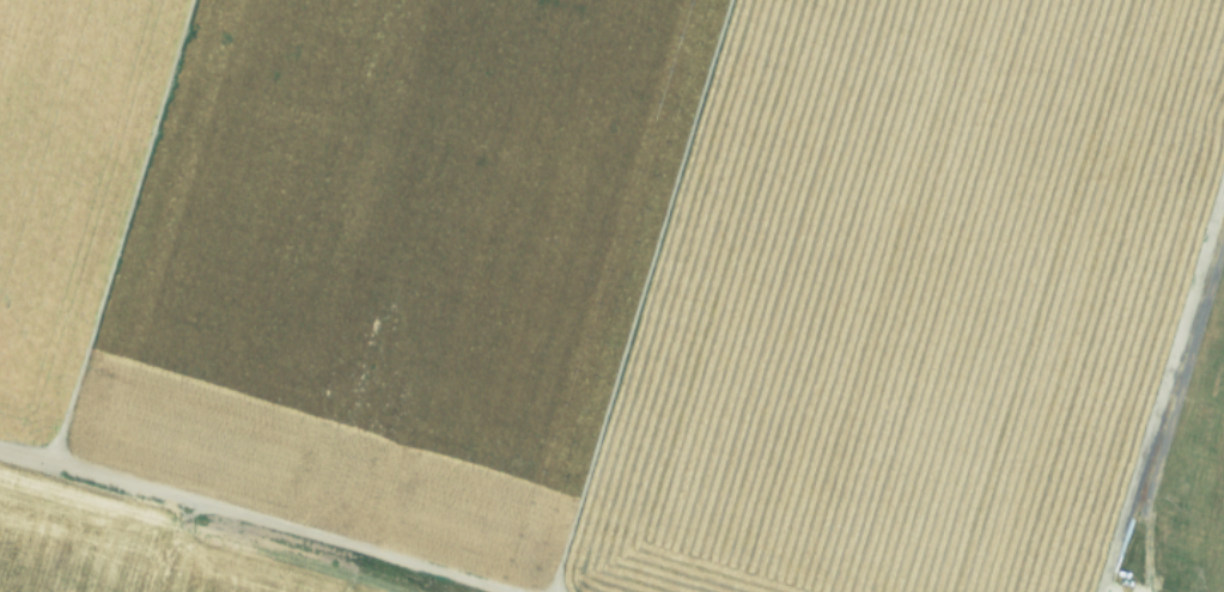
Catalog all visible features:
crop: (592, 289)
road: (1176, 392)

